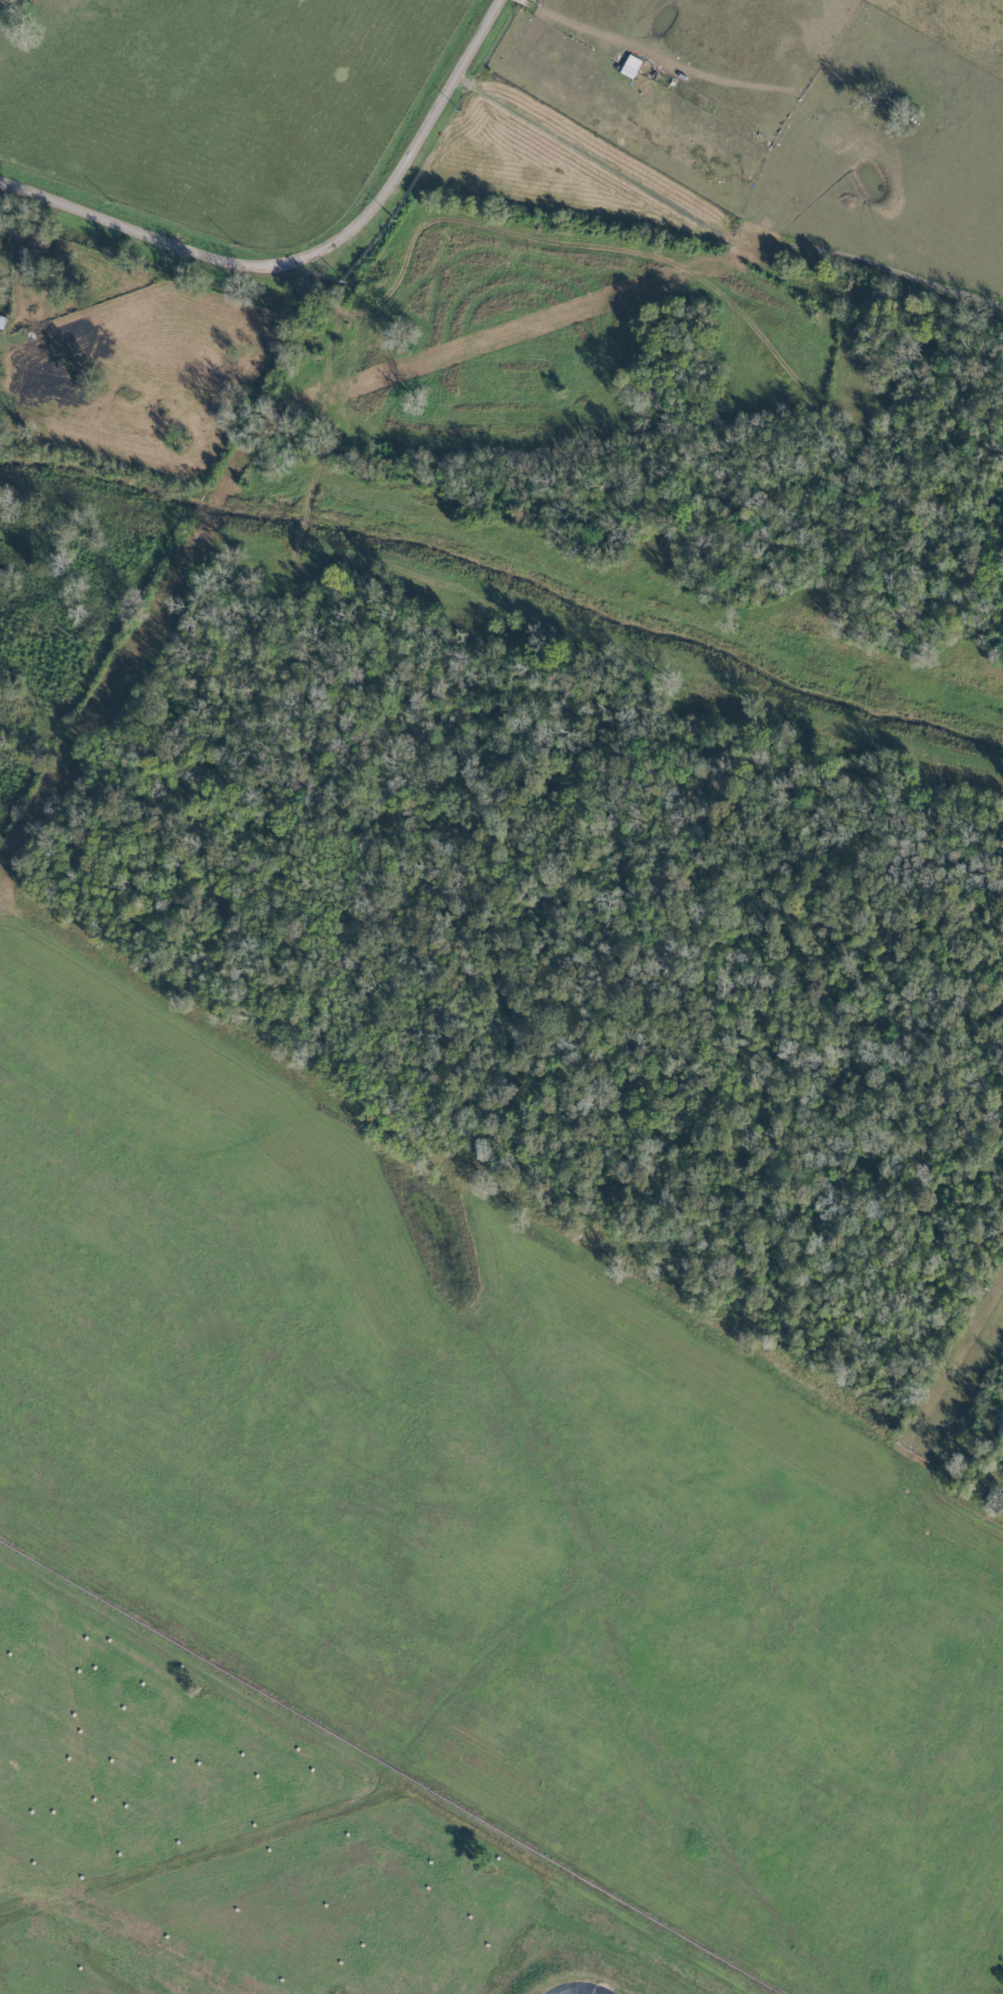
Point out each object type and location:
road: (315, 272)

